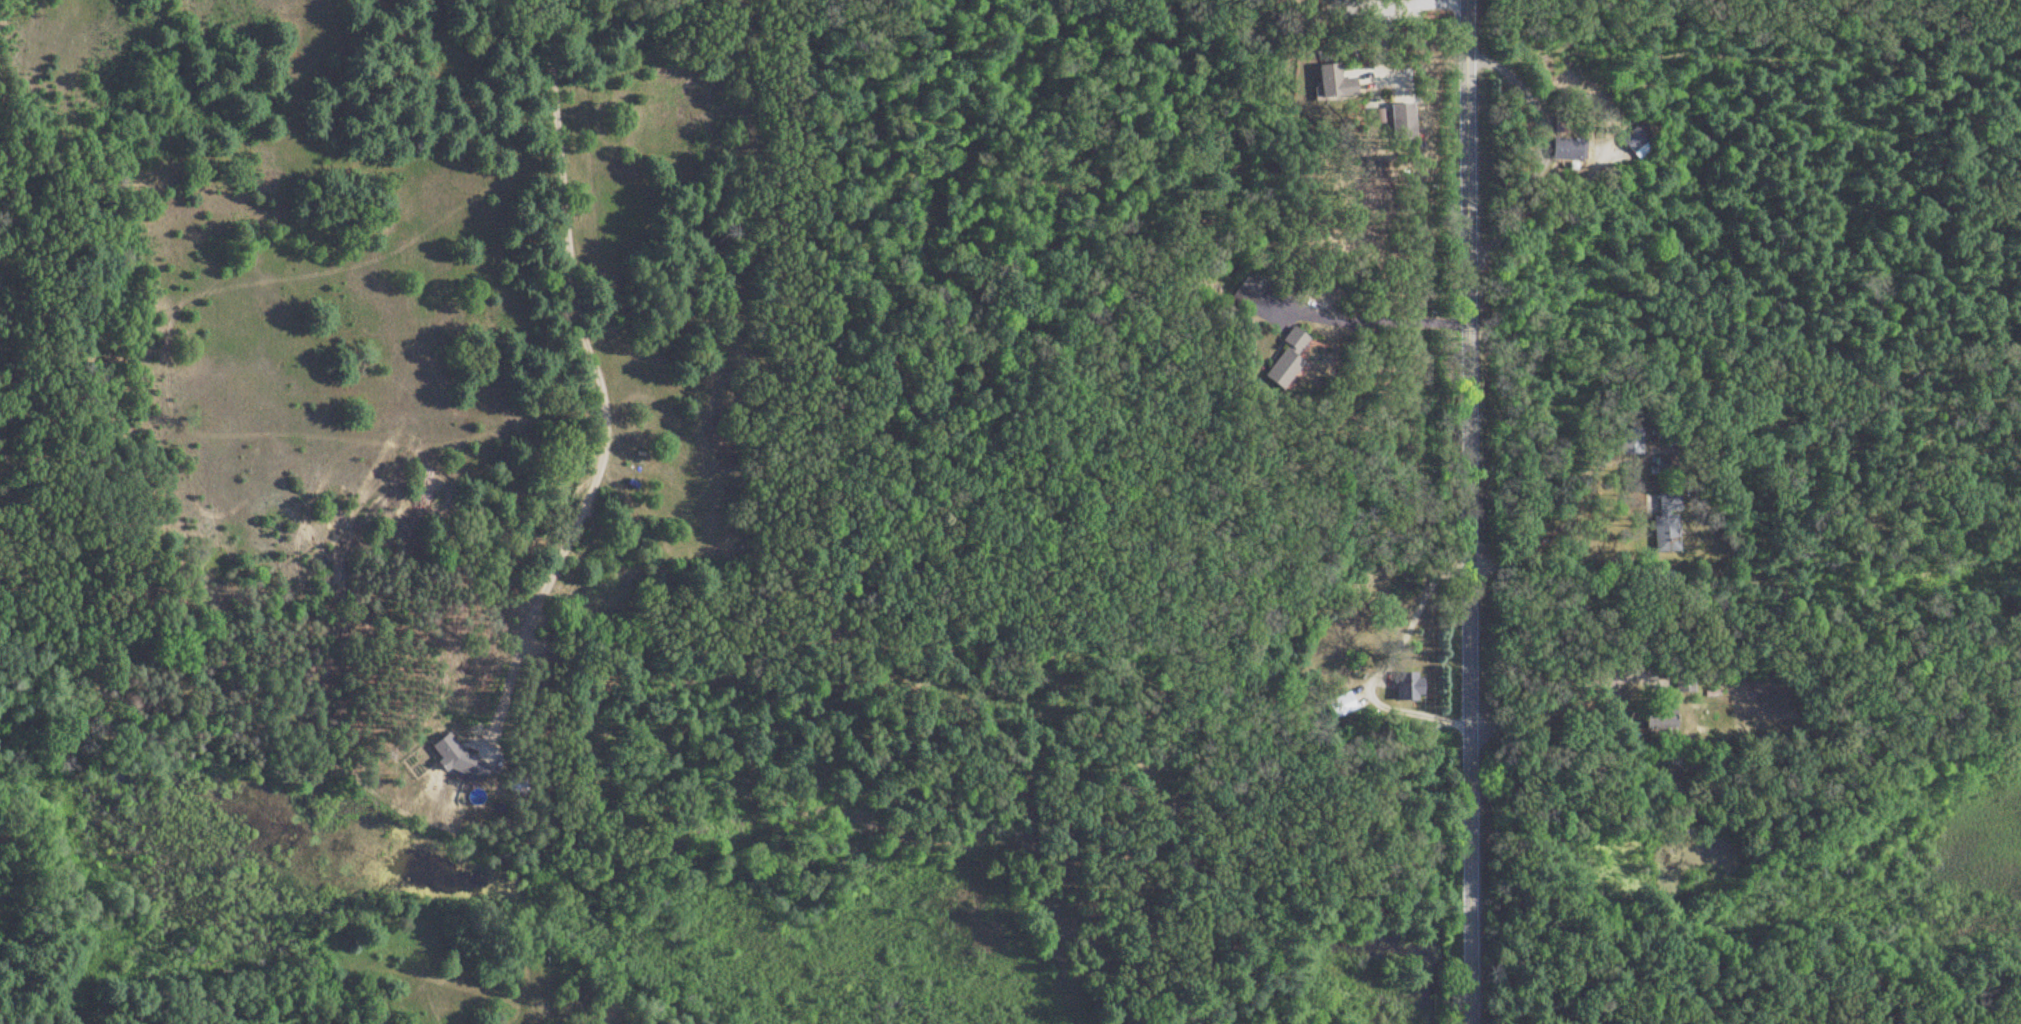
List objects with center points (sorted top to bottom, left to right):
road: (1377, 28)
road: (441, 112)
building: (1634, 147)
road: (1543, 226)
road: (1369, 316)
road: (592, 381)
road: (1460, 511)
building: (1658, 520)
road: (1546, 529)
road: (1384, 658)
building: (1408, 689)
road: (1553, 693)
building: (460, 763)

